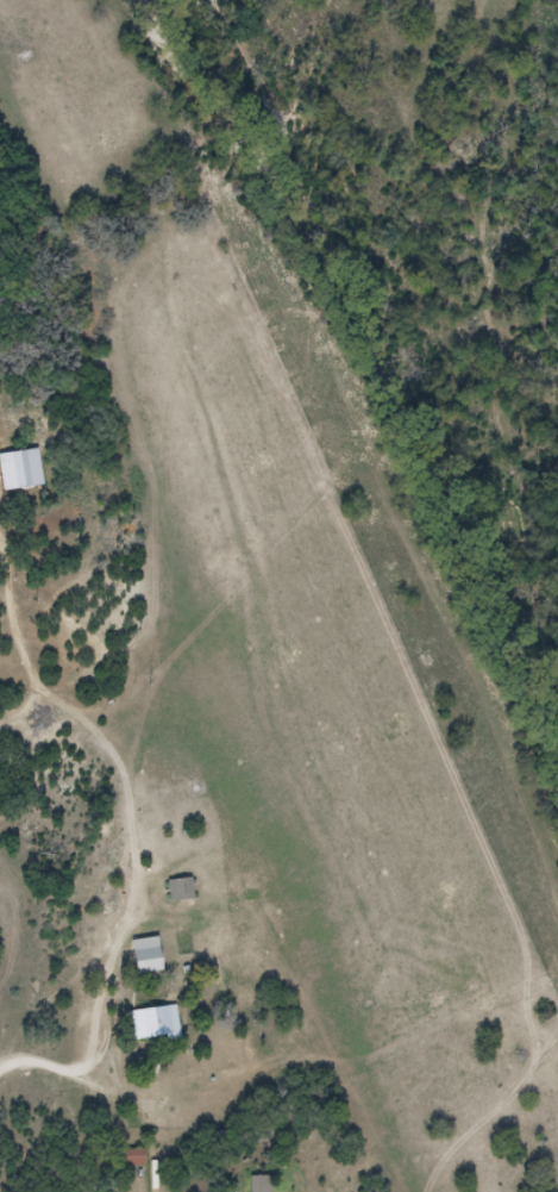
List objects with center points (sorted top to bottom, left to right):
building: (182, 891)
building: (149, 956)
building: (156, 1024)
building: (136, 1159)
building: (263, 1184)

